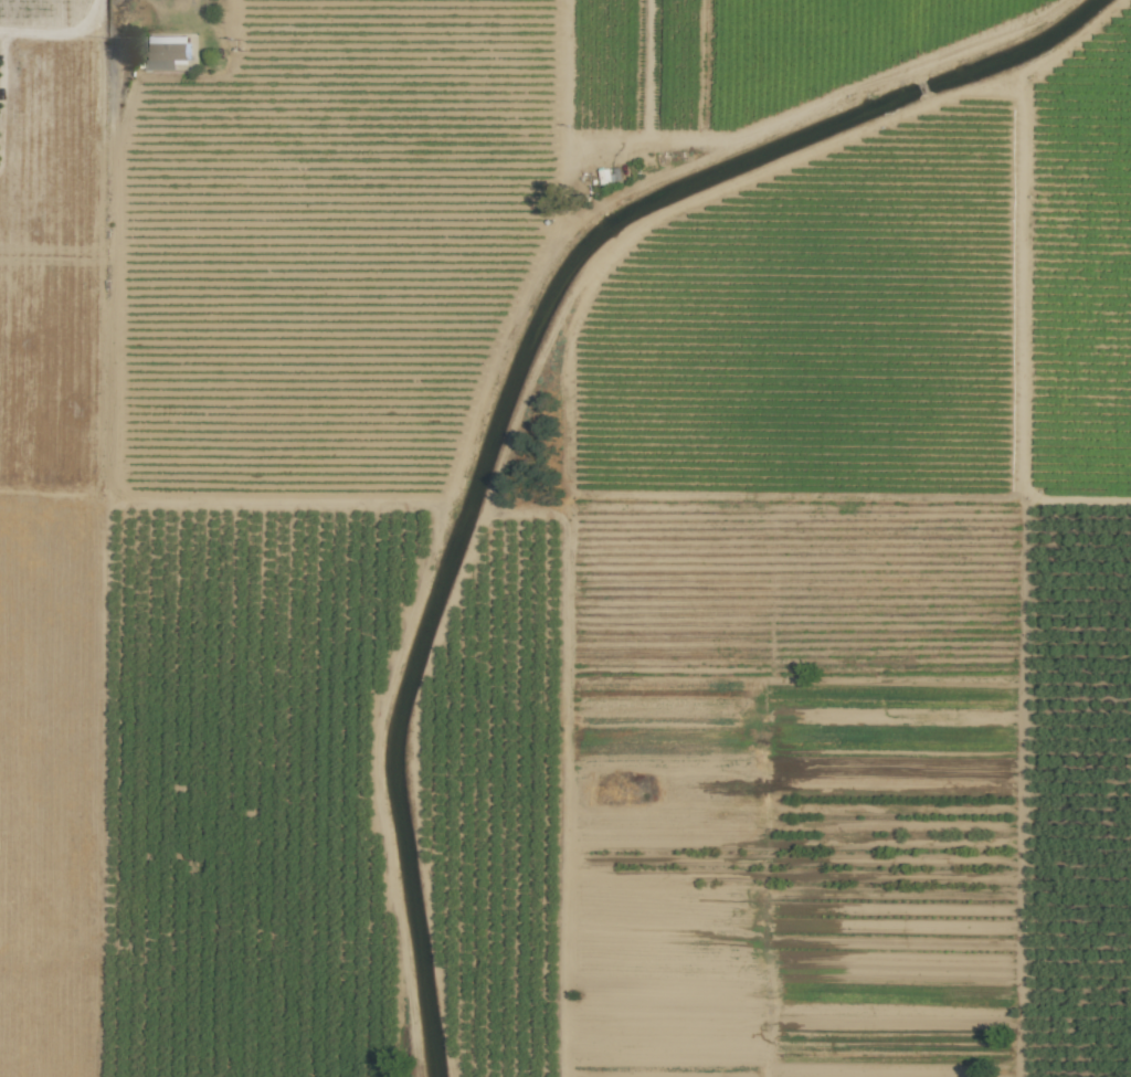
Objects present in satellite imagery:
road: (59, 31)
building: (168, 52)

